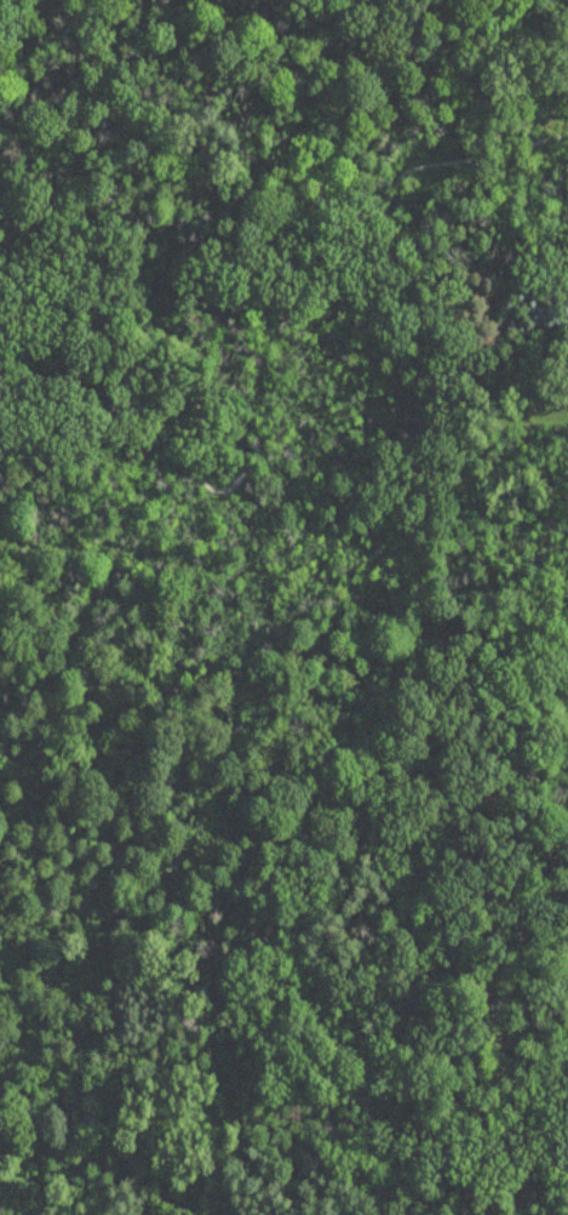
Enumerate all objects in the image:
road: (296, 255)
road: (120, 435)
road: (241, 467)
park: (231, 576)

